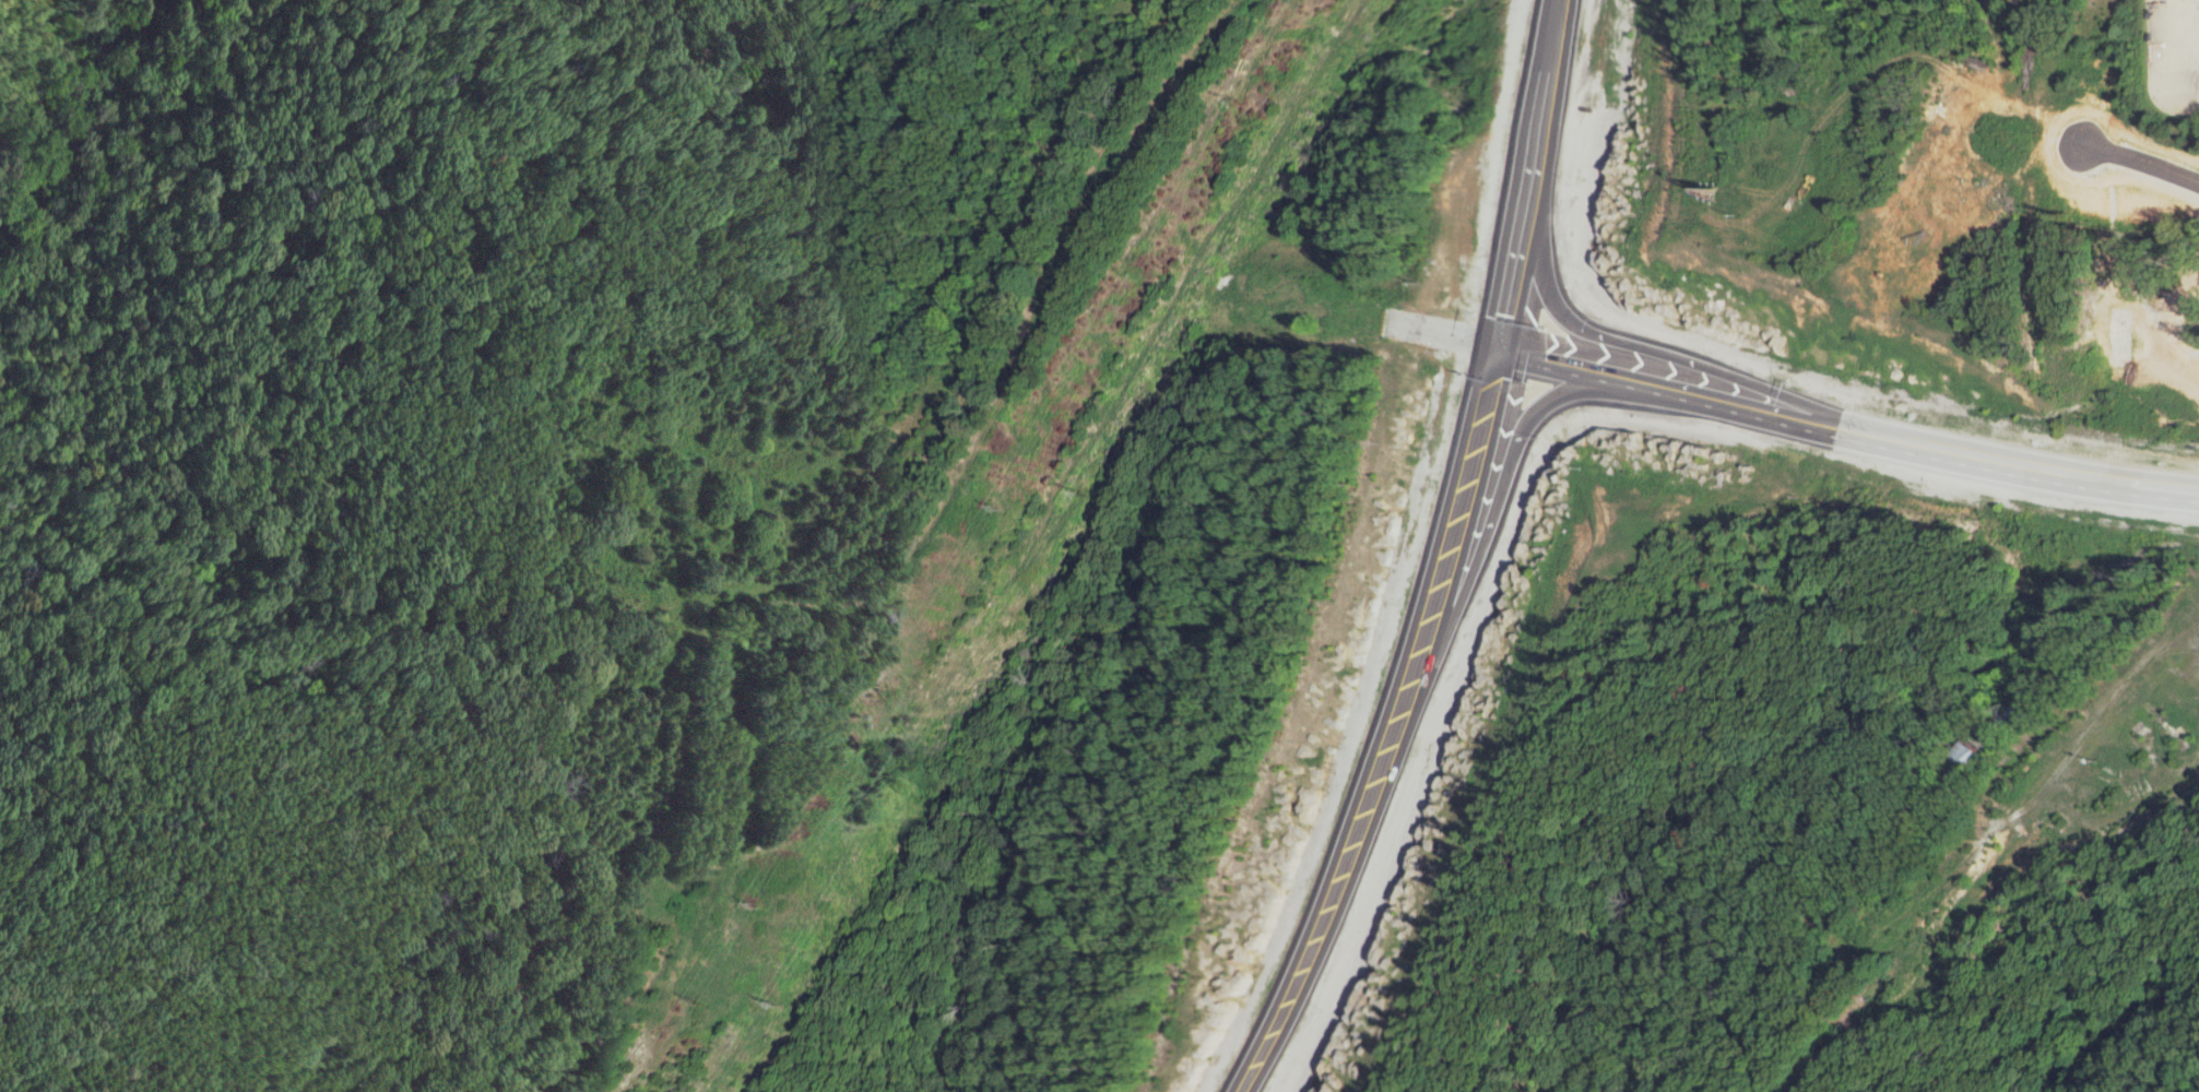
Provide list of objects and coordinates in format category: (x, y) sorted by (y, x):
road: (2196, 27)
power tower: (1238, 99)
road: (1514, 174)
traffic signals: (1481, 347)
road: (1634, 354)
road: (1837, 430)
road: (1482, 462)
power tower: (1081, 499)
power tower: (989, 506)
road: (1371, 725)
power tower: (696, 1002)
power tower: (771, 1009)

